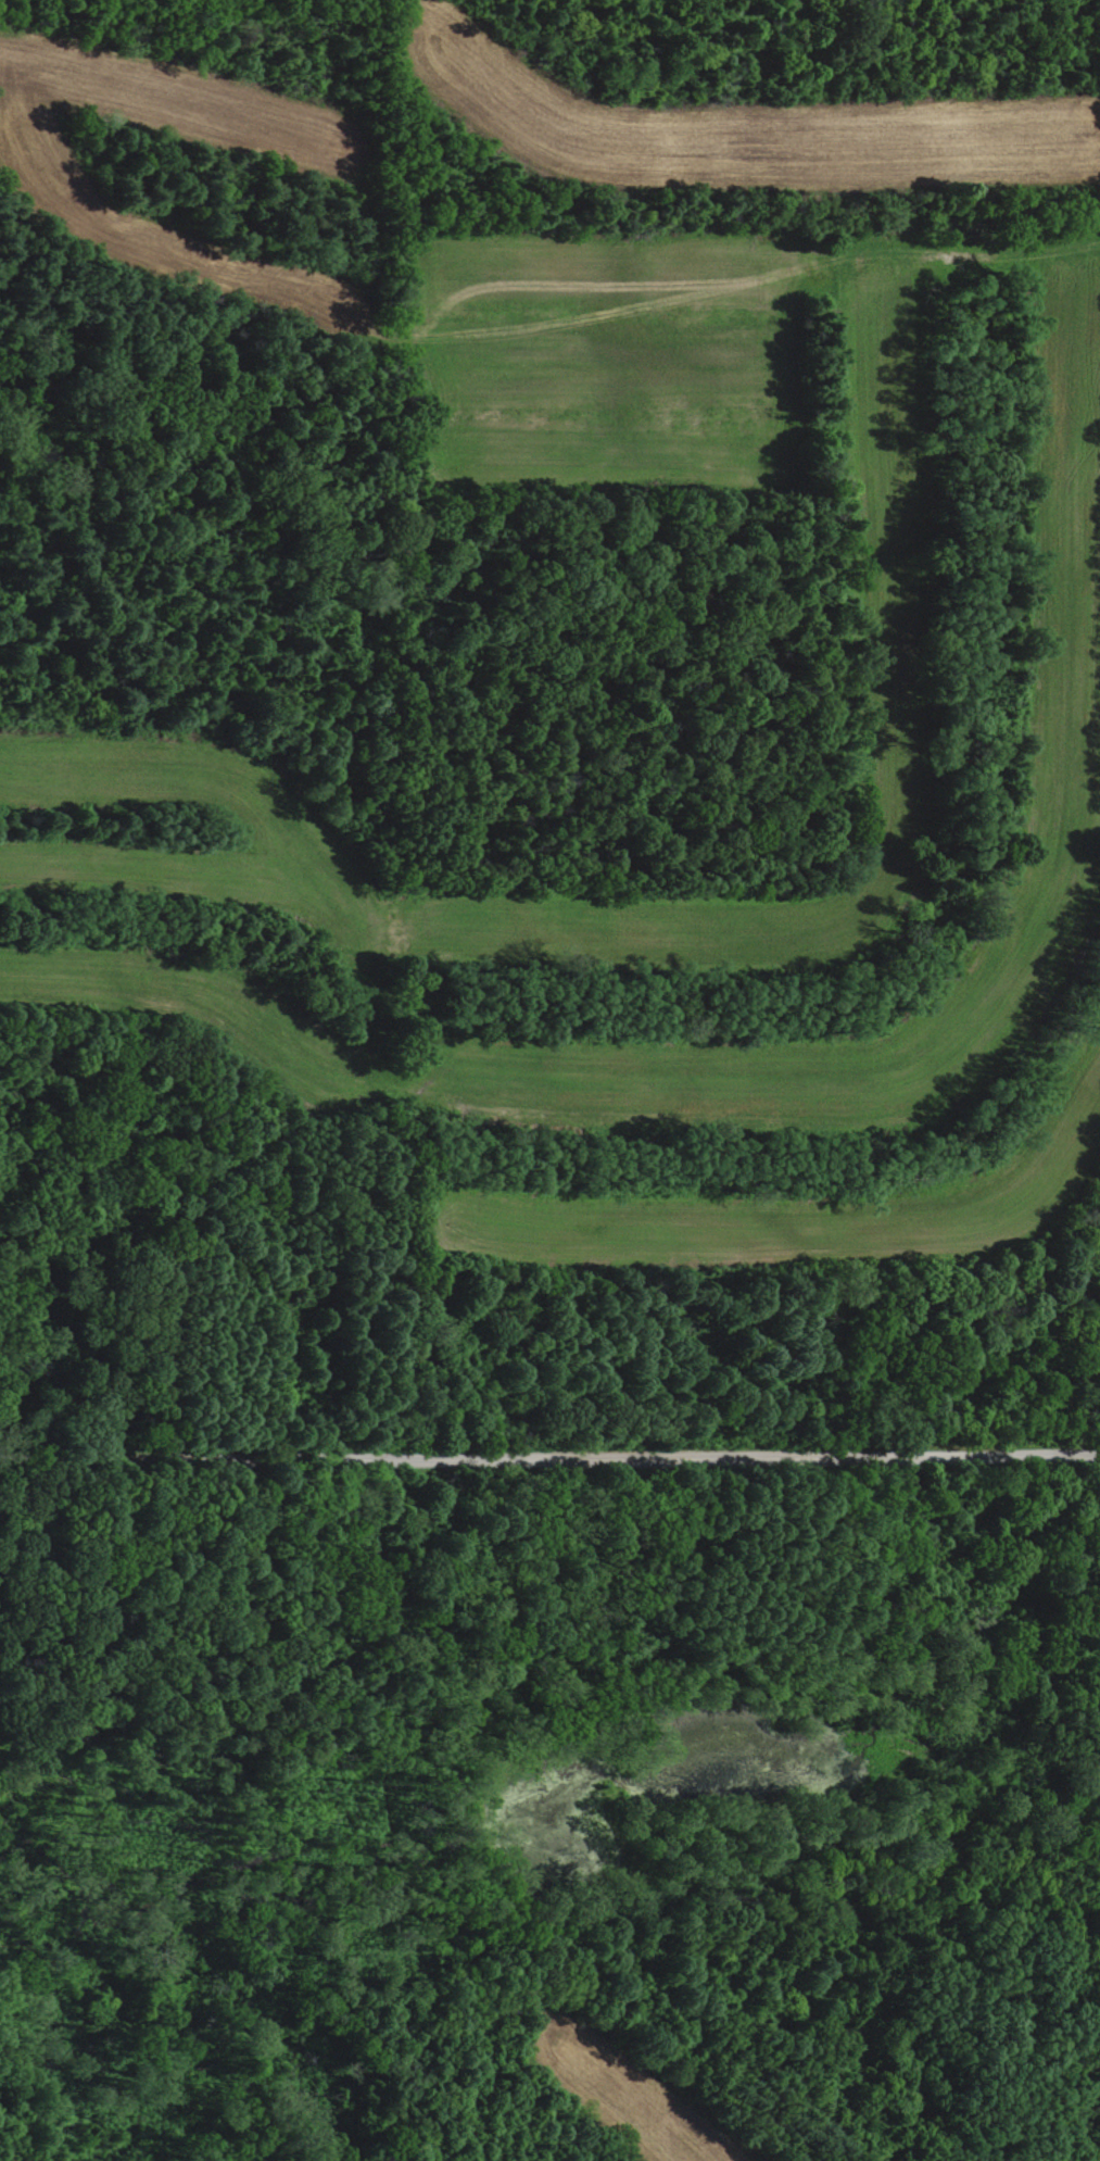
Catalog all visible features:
road: (549, 1460)

